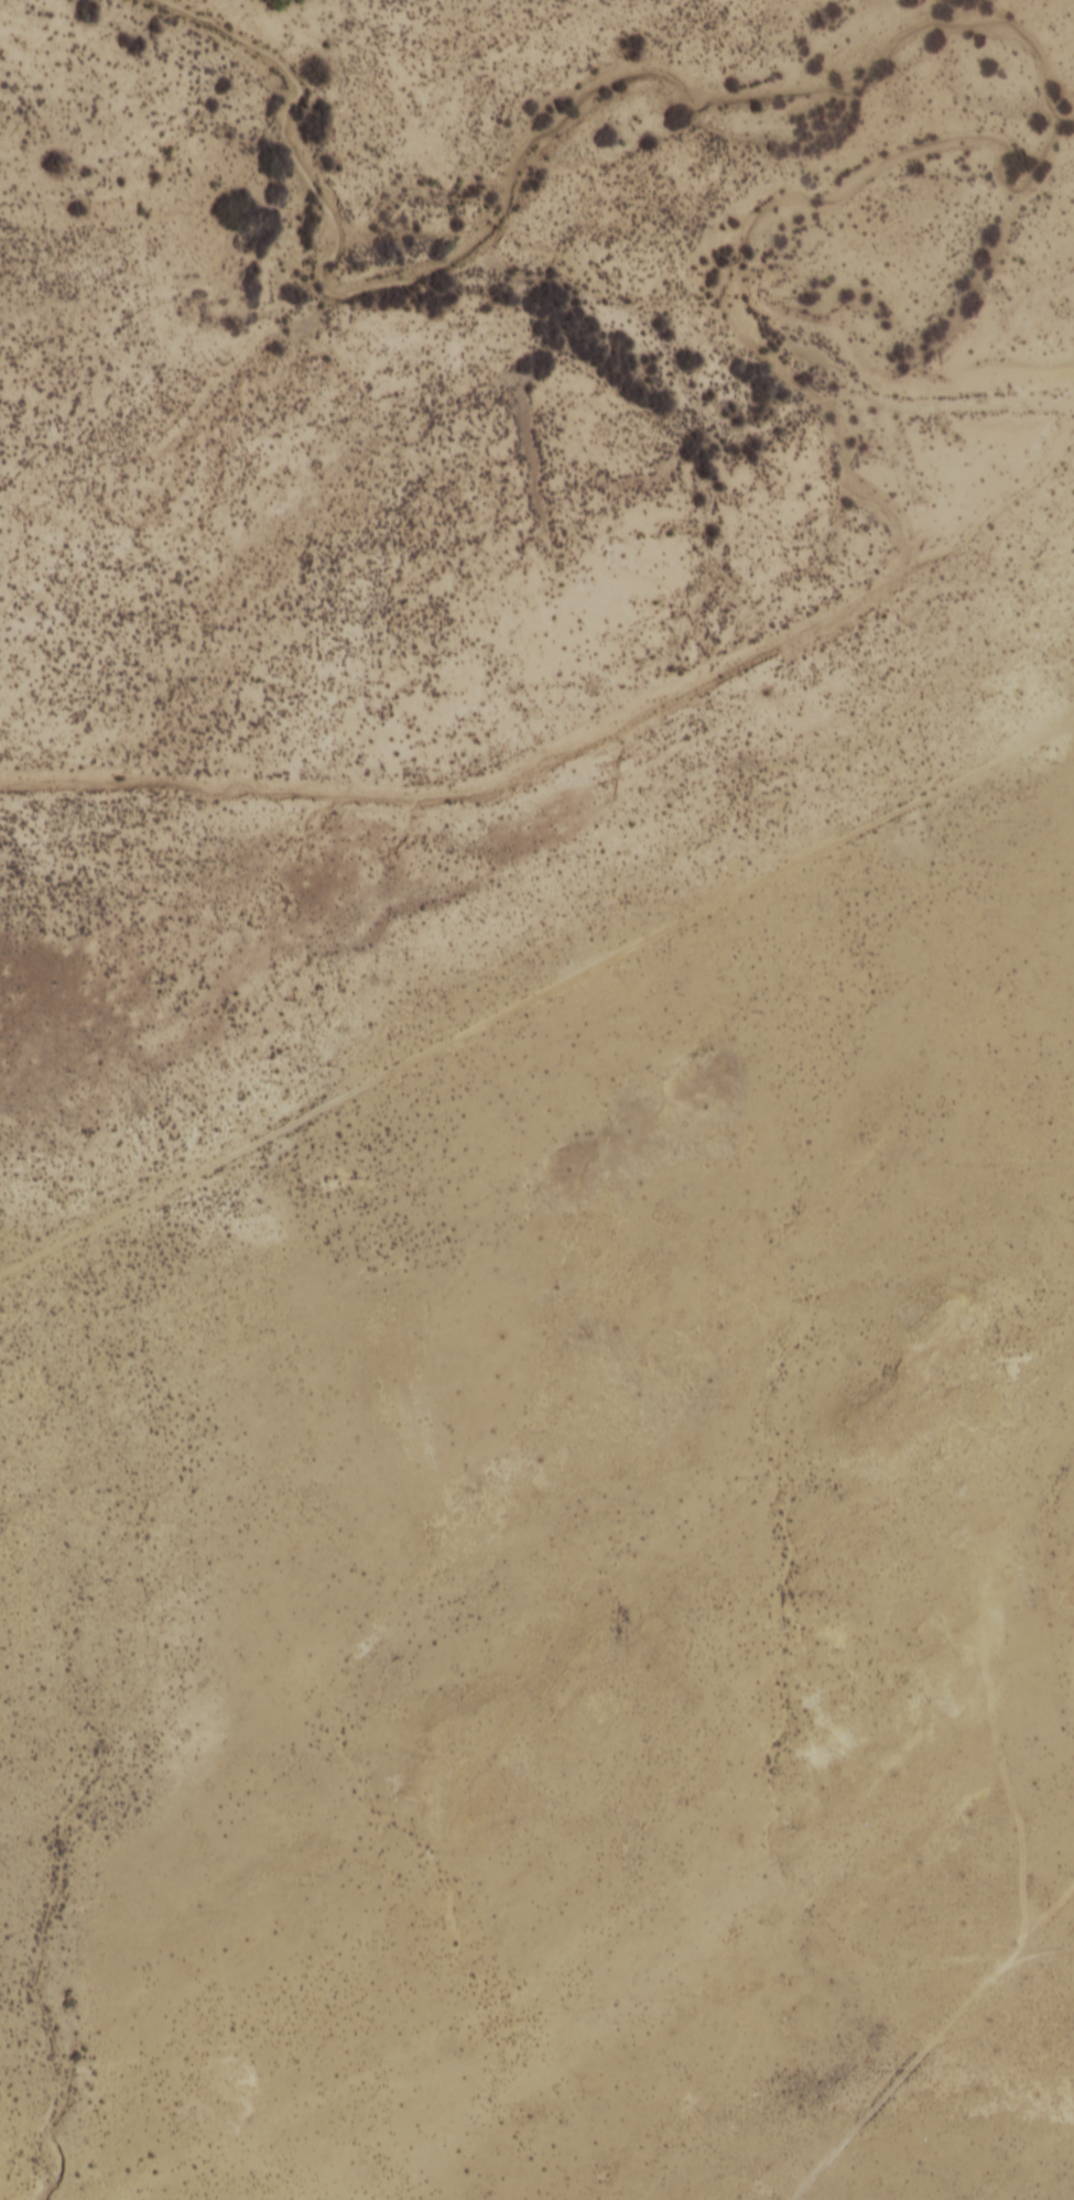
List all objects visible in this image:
river: (588, 312)
road: (959, 1878)
road: (848, 2008)

